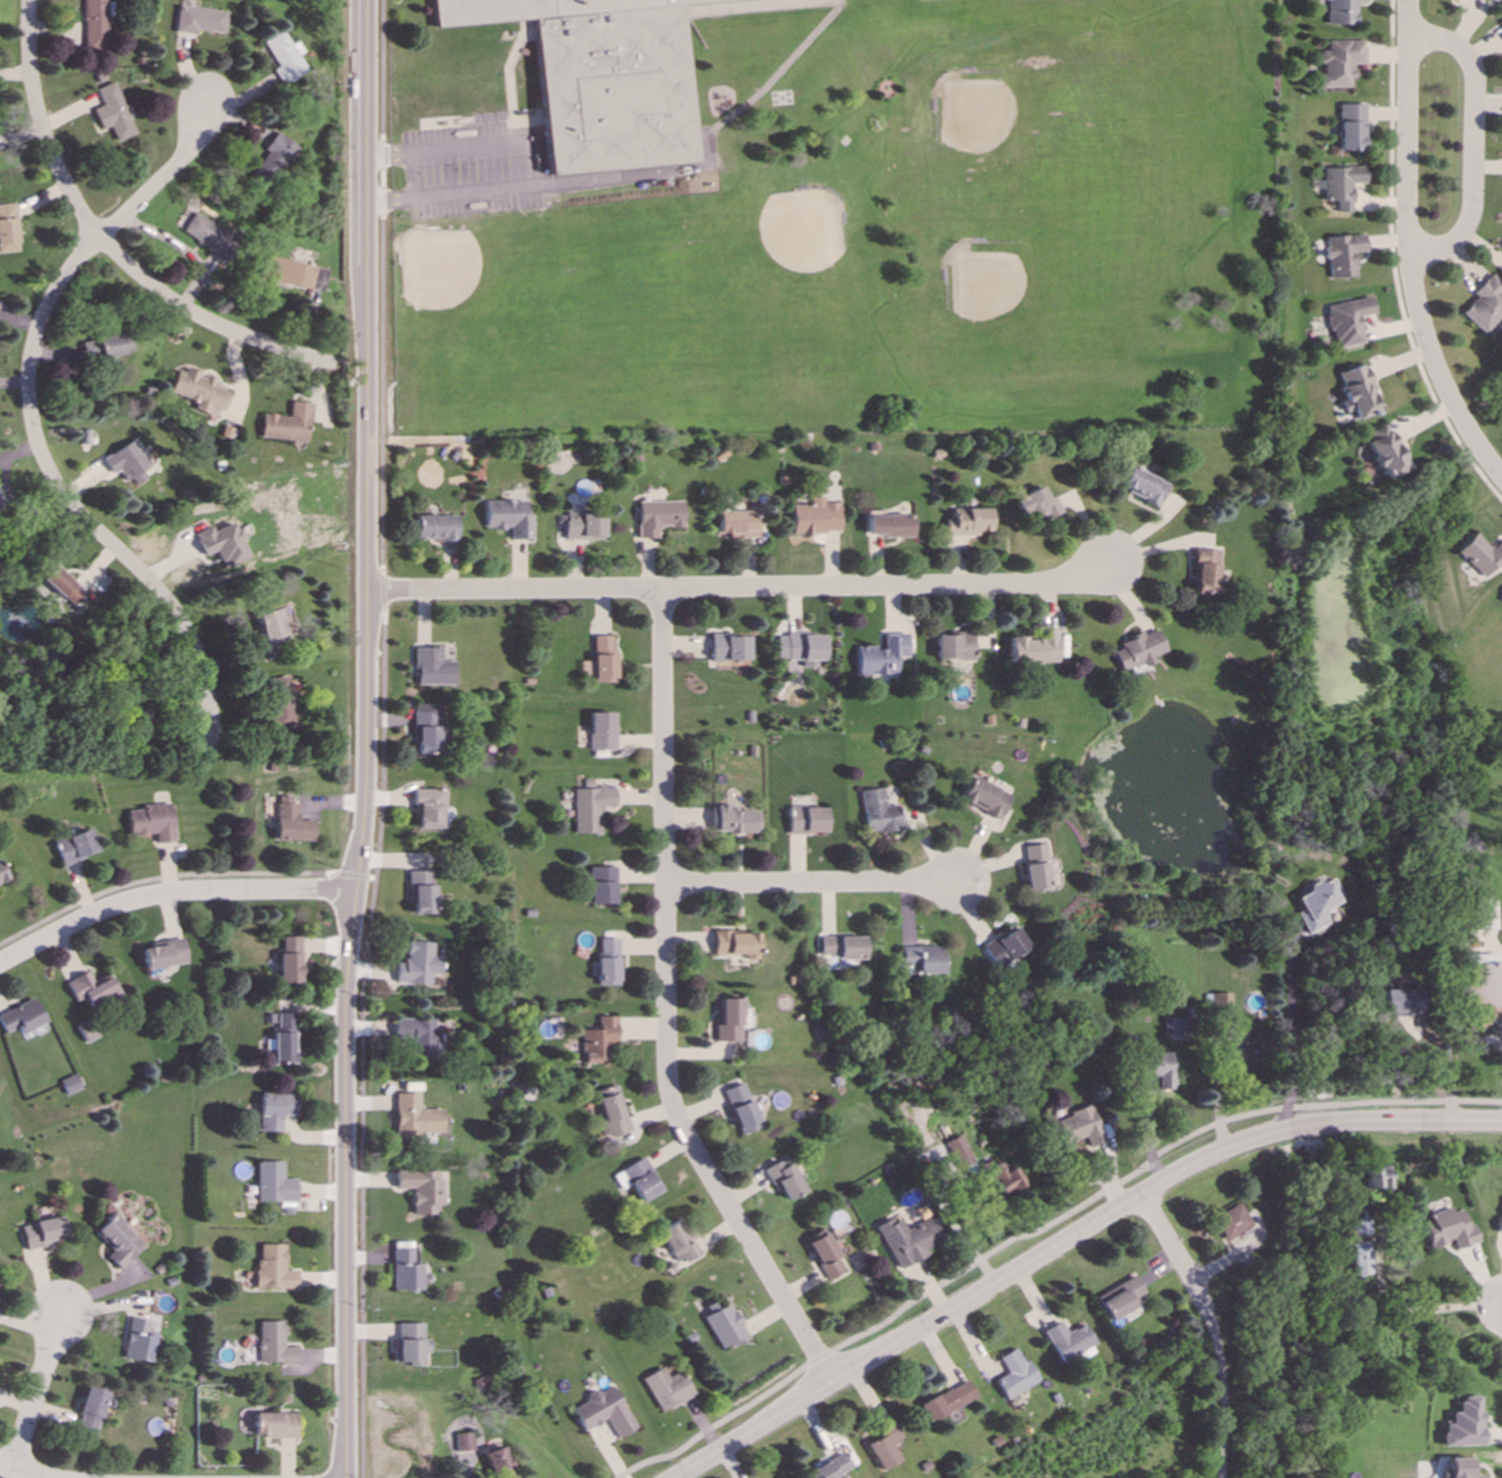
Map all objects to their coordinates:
building: (1339, 11)
building: (199, 20)
building: (93, 24)
building: (1499, 26)
building: (285, 57)
building: (1339, 62)
road: (382, 71)
building: (603, 78)
building: (112, 113)
building: (1349, 127)
road: (1470, 143)
road: (443, 153)
road: (382, 154)
building: (274, 159)
road: (382, 177)
building: (1340, 185)
road: (382, 200)
building: (7, 228)
building: (207, 236)
road: (106, 244)
road: (1406, 247)
building: (1501, 253)
building: (1342, 254)
road: (1393, 264)
building: (294, 274)
building: (1483, 304)
building: (1347, 321)
building: (100, 347)
building: (197, 391)
road: (381, 392)
building: (1356, 392)
road: (29, 414)
building: (287, 424)
building: (1384, 452)
building: (127, 462)
building: (1142, 486)
building: (0, 502)
building: (1037, 505)
building: (658, 517)
building: (508, 518)
building: (816, 518)
building: (968, 522)
building: (736, 523)
building: (584, 525)
building: (888, 526)
building: (434, 527)
building: (222, 544)
road: (1157, 544)
building: (1481, 555)
building: (1204, 571)
building: (60, 585)
road: (736, 588)
road: (381, 590)
building: (1501, 600)
building: (270, 627)
building: (954, 646)
building: (729, 648)
building: (801, 648)
building: (1033, 650)
building: (1137, 650)
building: (881, 656)
building: (603, 659)
building: (431, 667)
building: (279, 703)
building: (428, 729)
building: (601, 731)
road: (367, 739)
building: (984, 798)
building: (427, 808)
building: (591, 808)
building: (879, 812)
building: (734, 820)
building: (806, 820)
building: (151, 822)
building: (291, 822)
building: (74, 847)
building: (1035, 868)
road: (355, 876)
building: (1, 877)
road: (161, 877)
road: (810, 884)
building: (602, 885)
building: (421, 892)
road: (171, 894)
building: (1313, 906)
building: (735, 944)
building: (841, 947)
building: (1004, 947)
building: (163, 954)
building: (921, 959)
building: (290, 960)
building: (607, 962)
building: (417, 964)
building: (1482, 988)
building: (92, 990)
building: (1401, 1002)
building: (1220, 1004)
road: (666, 1007)
building: (20, 1017)
building: (728, 1021)
building: (1173, 1029)
building: (86, 1030)
road: (1296, 1035)
building: (417, 1037)
building: (284, 1039)
building: (597, 1040)
road: (362, 1042)
building: (1246, 1056)
building: (1157, 1068)
building: (69, 1084)
building: (741, 1108)
building: (274, 1111)
building: (611, 1112)
building: (415, 1117)
building: (1079, 1127)
building: (956, 1153)
building: (997, 1178)
building: (1377, 1178)
building: (638, 1180)
building: (783, 1180)
building: (422, 1189)
building: (1232, 1222)
building: (1358, 1222)
building: (1499, 1225)
road: (1040, 1228)
building: (1447, 1230)
building: (41, 1233)
road: (1068, 1236)
building: (907, 1240)
building: (116, 1241)
building: (677, 1242)
building: (824, 1255)
building: (1359, 1258)
building: (273, 1268)
building: (404, 1271)
building: (1119, 1298)
building: (725, 1327)
road: (1212, 1327)
building: (137, 1341)
building: (1067, 1341)
building: (274, 1344)
building: (410, 1344)
building: (1013, 1377)
building: (666, 1389)
road: (35, 1392)
building: (946, 1401)
building: (89, 1412)
building: (604, 1412)
building: (1464, 1424)
building: (274, 1425)
building: (464, 1442)
building: (884, 1448)
building: (498, 1463)
building: (1457, 1468)
building: (829, 1469)
road: (19, 1471)

